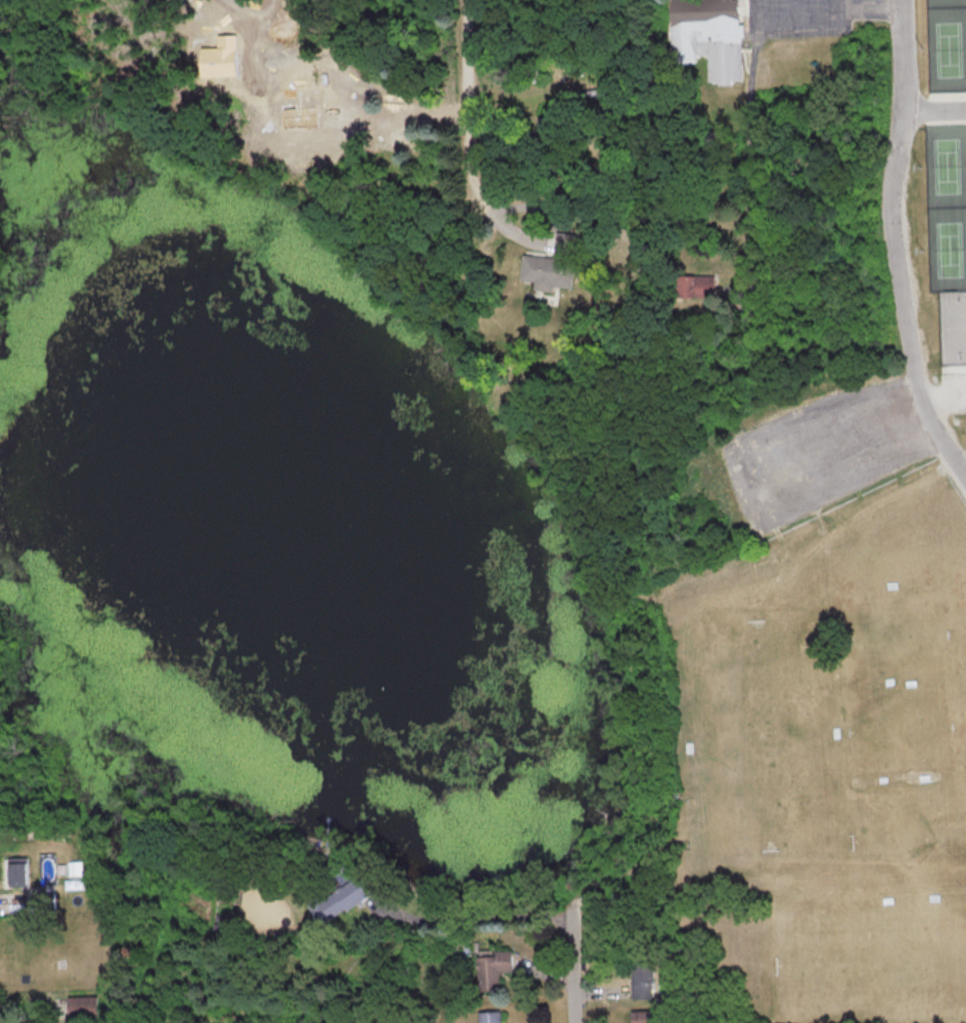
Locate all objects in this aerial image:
road: (833, 4)
parking lot: (804, 17)
road: (826, 18)
building: (711, 36)
park: (953, 48)
road: (936, 110)
road: (469, 132)
park: (951, 165)
road: (895, 239)
park: (954, 249)
building: (551, 264)
building: (696, 285)
park: (954, 326)
parking lot: (823, 452)
park: (903, 637)
park: (907, 730)
park: (760, 734)
park: (912, 839)
building: (339, 898)
road: (10, 901)
road: (474, 929)
park: (874, 965)
building: (494, 968)
road: (572, 976)
building: (644, 979)
building: (77, 1008)
building: (491, 1016)
building: (643, 1016)

